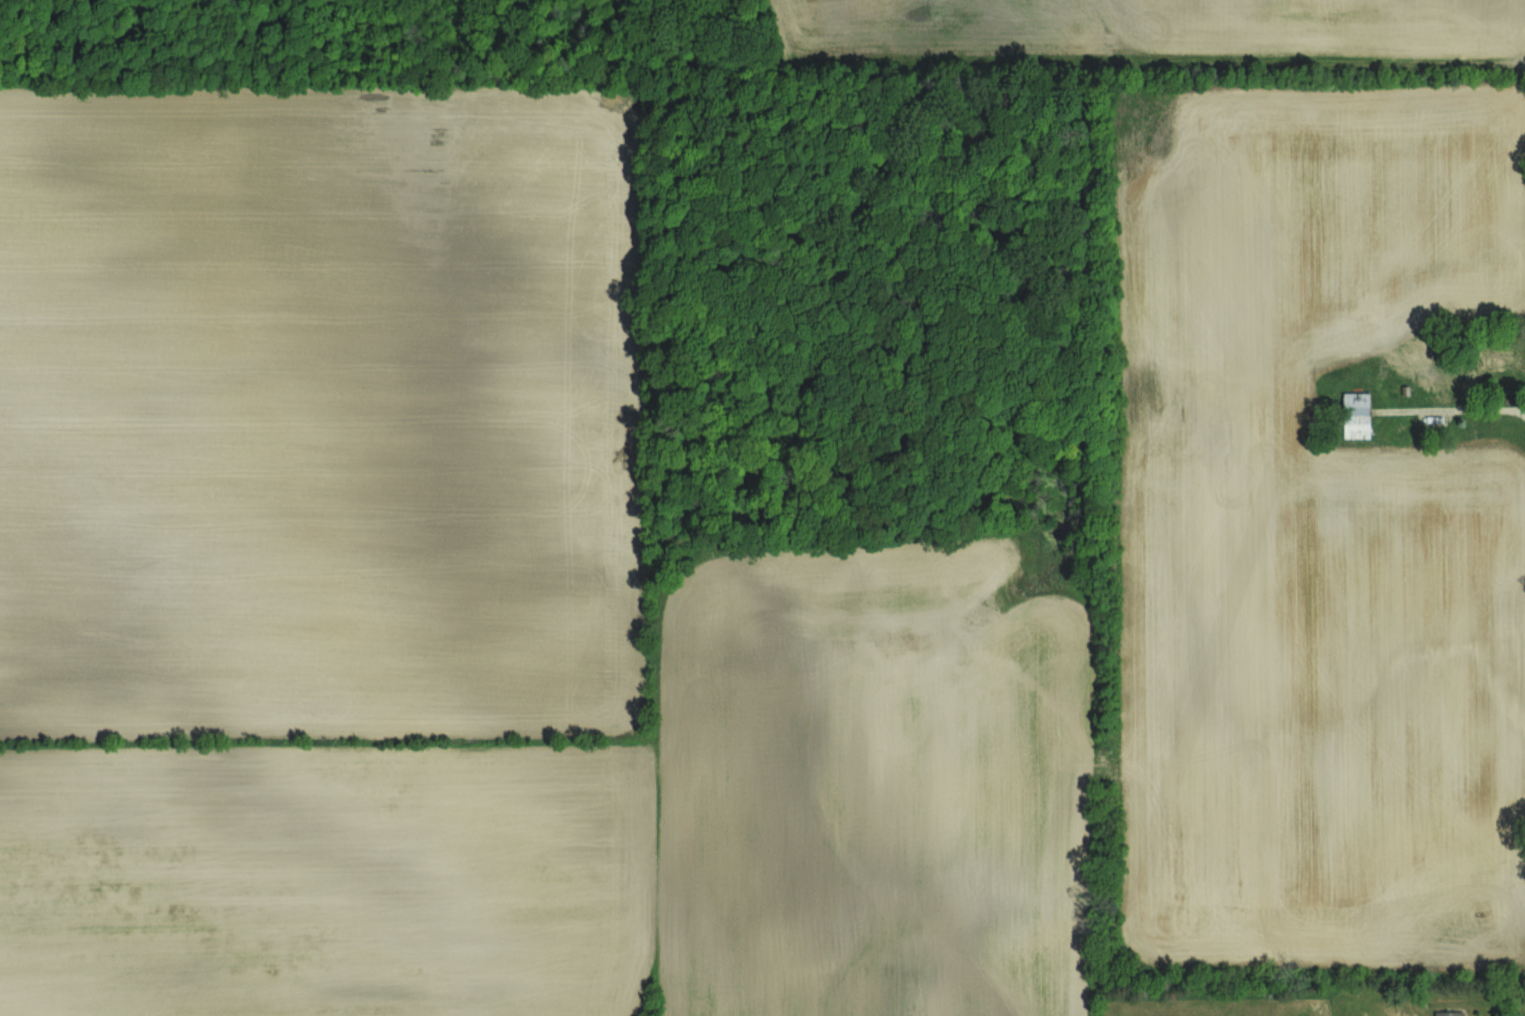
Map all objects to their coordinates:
building: (1492, 359)
building: (1327, 396)
building: (1356, 414)

